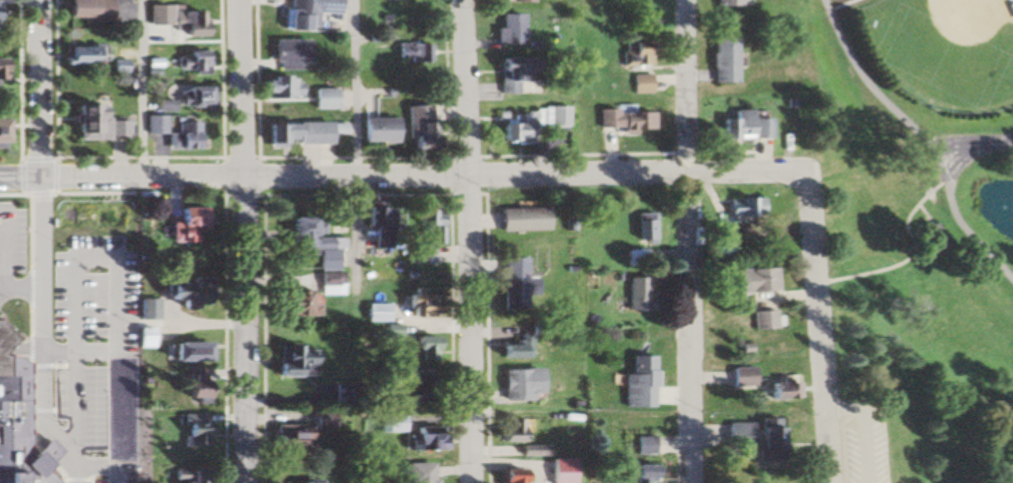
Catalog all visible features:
building: (521, 0)
building: (83, 9)
building: (305, 13)
building: (156, 15)
building: (186, 23)
building: (507, 29)
park: (942, 50)
building: (287, 53)
building: (411, 53)
building: (635, 54)
building: (73, 55)
building: (720, 60)
building: (189, 61)
building: (115, 65)
building: (1, 69)
building: (511, 75)
building: (640, 84)
building: (280, 88)
road: (140, 91)
building: (196, 97)
building: (324, 99)
building: (161, 106)
building: (625, 121)
building: (528, 124)
building: (92, 125)
building: (152, 125)
building: (415, 127)
building: (743, 127)
building: (0, 131)
building: (374, 131)
building: (295, 135)
building: (183, 136)
road: (354, 152)
road: (531, 174)
road: (123, 183)
building: (744, 206)
building: (518, 219)
building: (84, 221)
building: (181, 224)
building: (378, 227)
building: (641, 227)
building: (124, 232)
park: (921, 233)
building: (426, 235)
building: (929, 239)
road: (44, 241)
road: (246, 241)
road: (469, 241)
road: (689, 241)
building: (310, 242)
building: (633, 258)
building: (755, 279)
building: (508, 281)
building: (329, 288)
building: (185, 291)
building: (635, 293)
building: (79, 294)
building: (421, 301)
building: (287, 302)
building: (136, 309)
building: (373, 312)
building: (764, 319)
building: (389, 334)
building: (145, 337)
building: (4, 338)
road: (821, 339)
building: (88, 342)
building: (512, 347)
building: (421, 348)
building: (186, 350)
building: (287, 359)
building: (638, 376)
building: (741, 376)
building: (6, 382)
building: (517, 384)
building: (195, 386)
building: (777, 389)
building: (99, 391)
building: (398, 391)
building: (324, 420)
building: (391, 423)
building: (97, 428)
building: (194, 429)
building: (514, 430)
building: (735, 434)
building: (292, 436)
building: (764, 438)
building: (429, 439)
building: (644, 444)
parking lot: (854, 444)
building: (8, 450)
building: (115, 461)
building: (558, 470)
building: (145, 472)
building: (420, 472)
building: (640, 474)
building: (194, 475)
building: (509, 475)
building: (309, 481)

